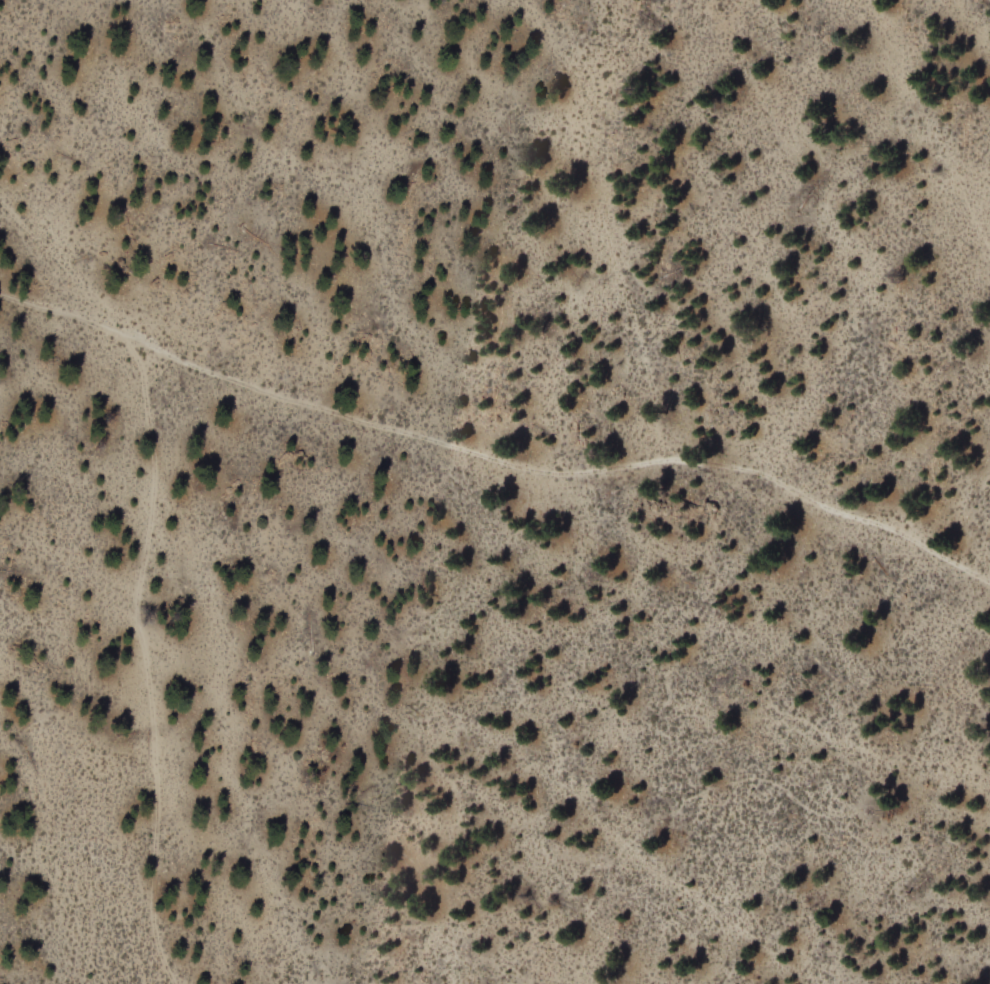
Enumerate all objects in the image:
road: (495, 460)
road: (336, 656)
road: (166, 740)

